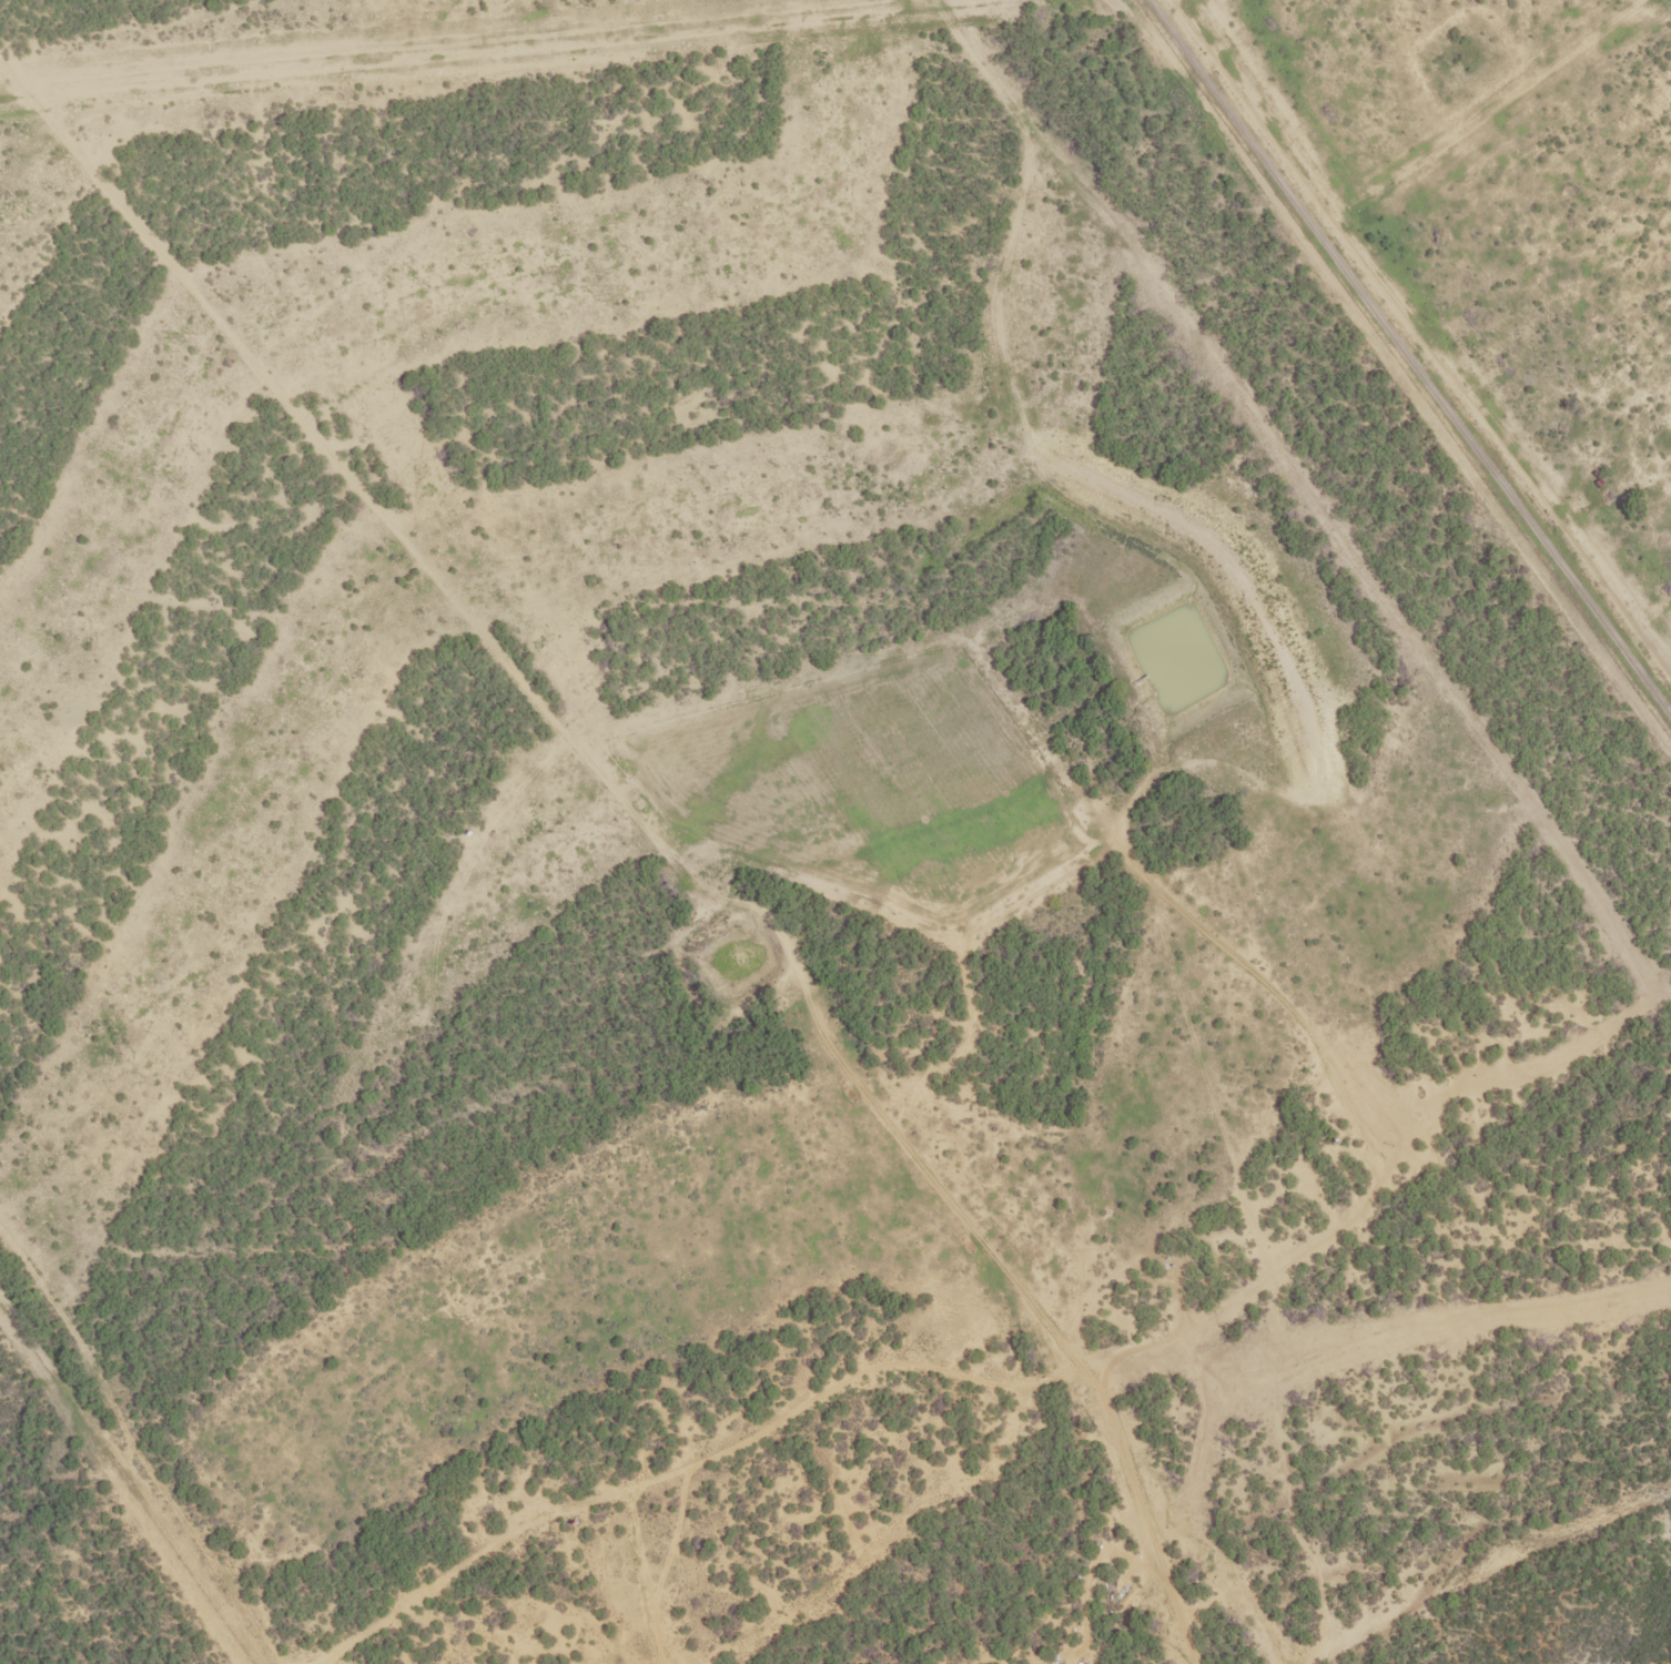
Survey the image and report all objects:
road: (1411, 351)

